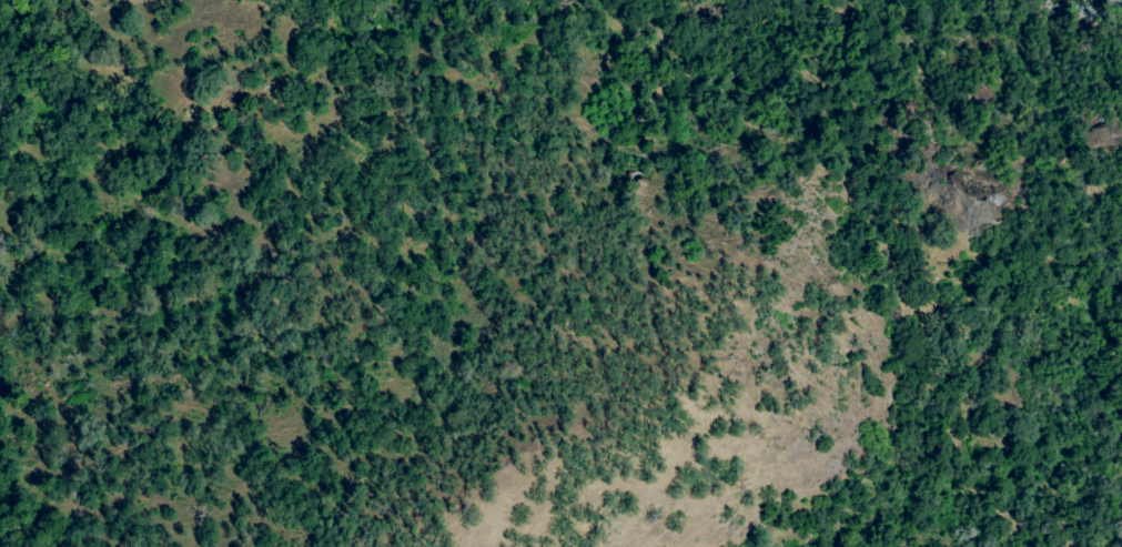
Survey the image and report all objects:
river: (1085, 10)

